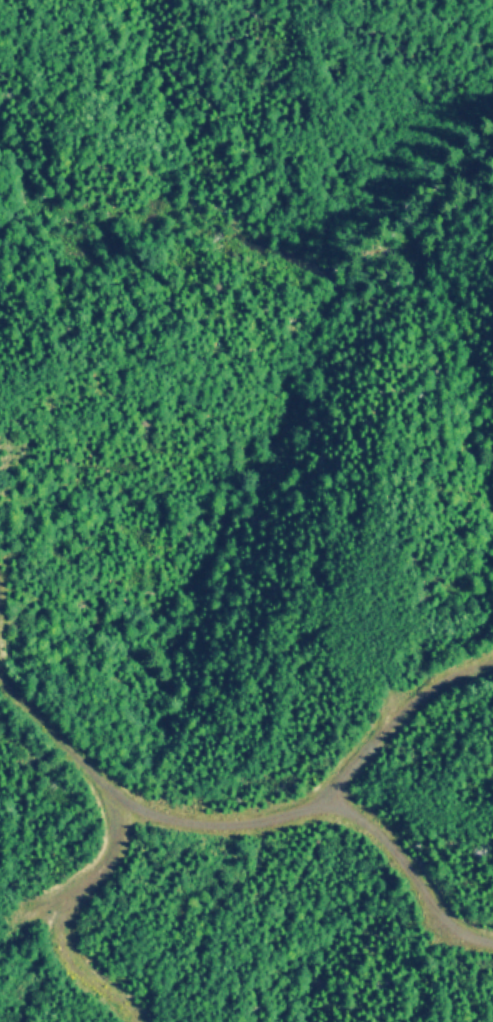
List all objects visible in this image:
road: (209, 803)

